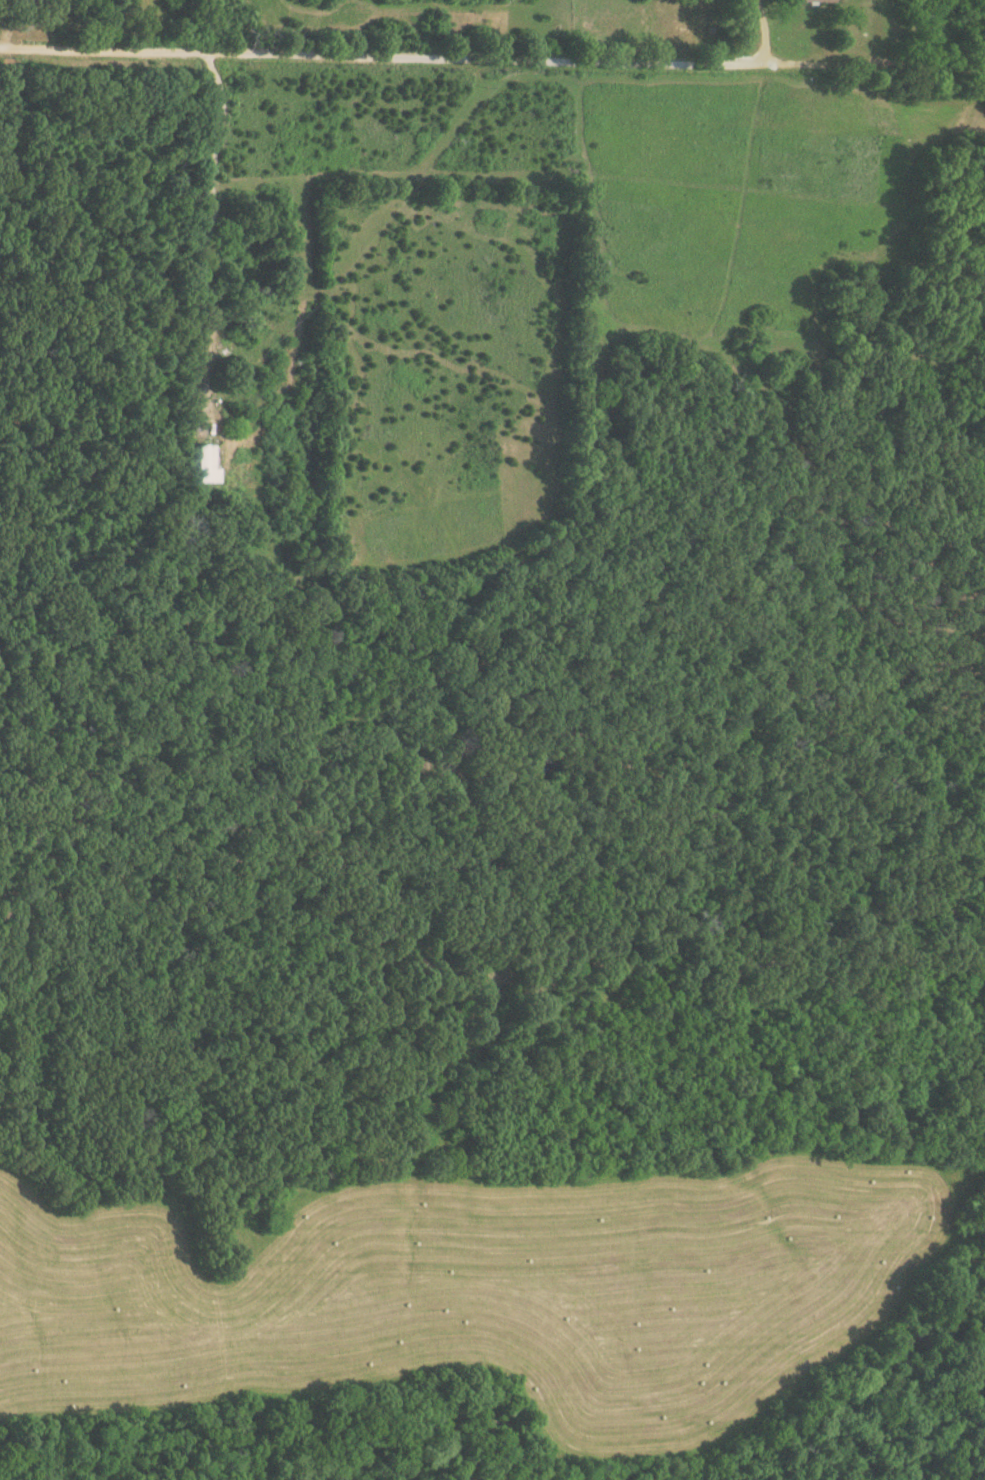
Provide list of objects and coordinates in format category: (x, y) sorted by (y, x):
building: (816, 0)
road: (381, 61)
building: (205, 464)

